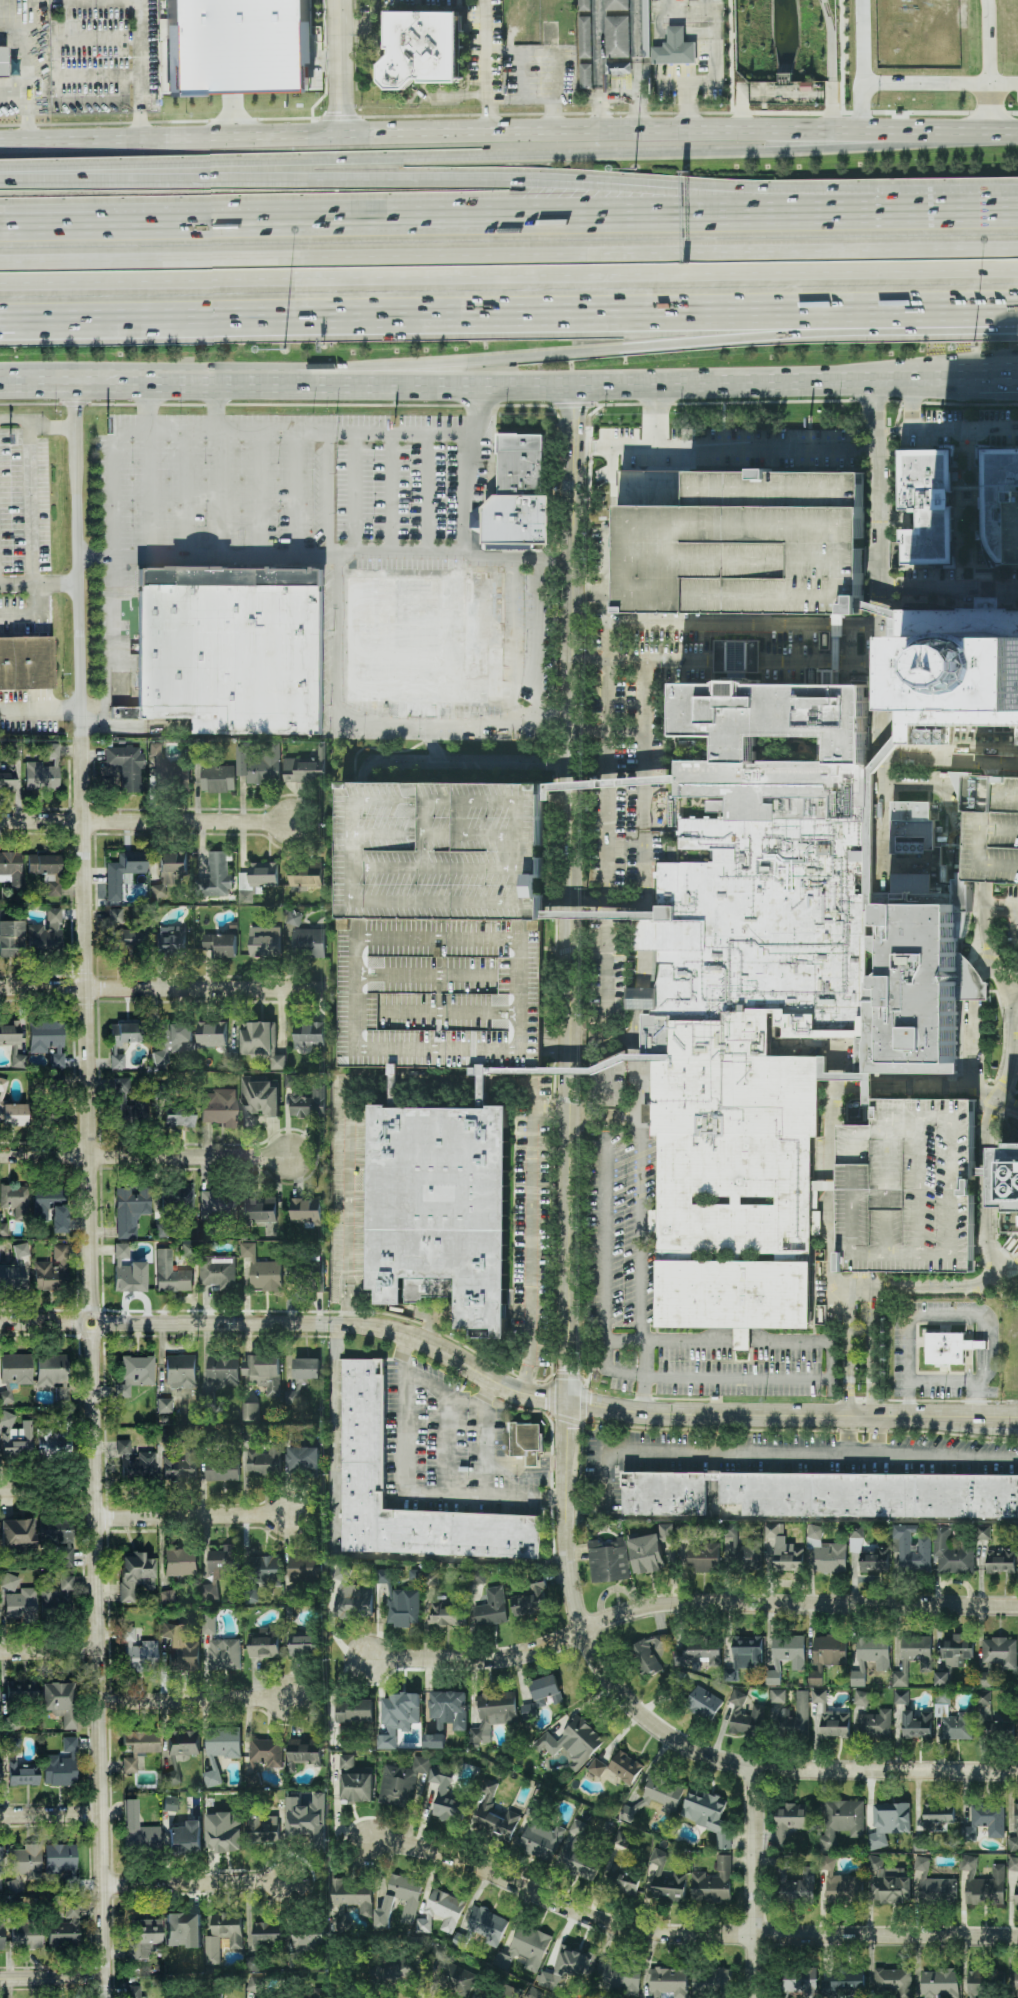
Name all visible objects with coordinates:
road: (366, 24)
building: (617, 37)
road: (95, 39)
road: (986, 42)
building: (584, 45)
road: (862, 46)
building: (419, 48)
building: (674, 48)
building: (270, 50)
building: (3, 60)
road: (731, 60)
road: (838, 60)
road: (485, 65)
road: (341, 67)
road: (138, 68)
road: (29, 70)
road: (95, 77)
road: (551, 79)
road: (698, 83)
road: (907, 83)
road: (1002, 83)
building: (806, 88)
road: (238, 90)
road: (15, 100)
road: (987, 105)
road: (251, 113)
road: (552, 120)
road: (508, 130)
road: (494, 158)
road: (120, 178)
road: (611, 183)
road: (999, 209)
road: (547, 215)
road: (57, 216)
road: (57, 221)
road: (509, 255)
road: (509, 276)
road: (508, 314)
road: (618, 347)
road: (109, 379)
road: (999, 383)
road: (396, 384)
road: (776, 385)
road: (873, 400)
road: (766, 401)
road: (896, 401)
road: (912, 401)
road: (969, 404)
road: (912, 405)
road: (899, 413)
road: (39, 422)
road: (961, 427)
road: (894, 429)
road: (890, 430)
road: (295, 433)
road: (967, 434)
road: (642, 446)
road: (776, 447)
road: (868, 448)
road: (149, 466)
road: (470, 469)
road: (891, 470)
road: (614, 489)
road: (115, 491)
road: (186, 491)
road: (222, 492)
road: (262, 492)
road: (298, 493)
road: (326, 493)
road: (355, 493)
road: (393, 493)
road: (429, 493)
building: (521, 496)
building: (999, 498)
building: (928, 508)
road: (967, 509)
road: (891, 519)
road: (897, 519)
building: (1014, 527)
parking garage: (1014, 527)
road: (38, 539)
building: (747, 548)
parking garage: (747, 548)
road: (326, 551)
road: (891, 553)
road: (872, 564)
road: (993, 565)
road: (924, 568)
road: (962, 568)
road: (985, 575)
road: (39, 579)
road: (891, 587)
road: (989, 590)
road: (948, 592)
road: (590, 593)
road: (954, 605)
road: (721, 625)
building: (840, 625)
road: (839, 626)
road: (862, 627)
road: (880, 629)
building: (424, 641)
road: (114, 643)
building: (231, 649)
road: (683, 661)
road: (862, 661)
road: (739, 662)
road: (798, 662)
road: (839, 662)
building: (24, 664)
building: (956, 670)
road: (40, 710)
road: (425, 726)
building: (1015, 736)
building: (930, 737)
road: (649, 742)
building: (155, 749)
road: (949, 761)
building: (260, 764)
building: (122, 768)
road: (986, 768)
building: (166, 769)
building: (304, 769)
building: (43, 771)
road: (1009, 772)
road: (608, 775)
building: (7, 779)
building: (218, 779)
road: (146, 821)
road: (984, 827)
building: (994, 828)
parking garage: (994, 828)
building: (443, 846)
parking garage: (443, 846)
building: (11, 868)
building: (46, 870)
building: (123, 871)
building: (169, 871)
building: (306, 875)
building: (216, 877)
building: (257, 880)
road: (648, 889)
road: (570, 893)
road: (998, 906)
road: (1016, 907)
building: (293, 918)
road: (1016, 918)
road: (647, 930)
building: (121, 931)
building: (45, 934)
building: (10, 935)
road: (979, 939)
building: (171, 941)
building: (207, 942)
building: (265, 942)
building: (309, 943)
building: (226, 946)
road: (984, 956)
road: (991, 957)
road: (1006, 971)
building: (917, 977)
building: (972, 980)
road: (972, 983)
road: (163, 988)
road: (1010, 988)
building: (442, 990)
parking garage: (442, 990)
building: (754, 992)
road: (1015, 1013)
road: (636, 1028)
flagpole: (1002, 1028)
building: (9, 1032)
building: (309, 1034)
building: (212, 1035)
flagpole: (1002, 1035)
building: (177, 1036)
building: (47, 1039)
road: (1005, 1039)
building: (122, 1040)
building: (261, 1043)
flagpole: (1002, 1043)
road: (973, 1056)
building: (160, 1057)
building: (231, 1059)
road: (1005, 1077)
road: (1014, 1084)
building: (3, 1085)
road: (1005, 1085)
road: (347, 1087)
road: (906, 1088)
road: (983, 1090)
building: (305, 1098)
building: (143, 1099)
building: (258, 1101)
road: (1012, 1103)
road: (1007, 1105)
road: (979, 1106)
building: (219, 1107)
road: (980, 1110)
road: (993, 1112)
building: (14, 1114)
road: (835, 1114)
road: (605, 1119)
building: (178, 1120)
road: (983, 1121)
road: (1008, 1127)
park: (1008, 1132)
fountain: (1010, 1135)
road: (1004, 1137)
road: (1011, 1138)
road: (144, 1155)
building: (1010, 1178)
road: (995, 1182)
building: (911, 1186)
parking garage: (911, 1186)
road: (92, 1188)
building: (177, 1198)
building: (15, 1199)
building: (51, 1207)
building: (239, 1207)
building: (443, 1208)
building: (130, 1209)
building: (306, 1211)
building: (1009, 1220)
building: (655, 1221)
building: (3, 1229)
road: (642, 1234)
road: (1009, 1243)
building: (189, 1247)
building: (21, 1249)
road: (531, 1250)
road: (606, 1255)
road: (992, 1255)
road: (981, 1264)
building: (52, 1270)
building: (127, 1270)
building: (262, 1271)
building: (218, 1272)
building: (170, 1273)
building: (10, 1278)
road: (882, 1289)
road: (1006, 1290)
road: (47, 1321)
road: (338, 1325)
road: (968, 1327)
road: (981, 1327)
road: (991, 1333)
road: (742, 1339)
road: (904, 1342)
road: (917, 1348)
building: (949, 1348)
road: (891, 1356)
road: (645, 1359)
road: (909, 1362)
road: (980, 1365)
building: (307, 1368)
road: (969, 1369)
building: (223, 1370)
building: (180, 1371)
road: (333, 1371)
road: (609, 1371)
building: (14, 1372)
building: (134, 1372)
road: (849, 1373)
road: (872, 1373)
building: (53, 1374)
road: (780, 1378)
building: (292, 1398)
road: (909, 1399)
road: (975, 1399)
road: (849, 1400)
road: (860, 1400)
road: (872, 1400)
road: (891, 1400)
road: (908, 1400)
road: (940, 1400)
road: (975, 1401)
road: (1002, 1401)
building: (164, 1405)
building: (250, 1412)
road: (791, 1415)
building: (6, 1418)
road: (447, 1422)
building: (364, 1435)
road: (483, 1436)
building: (16, 1439)
building: (527, 1442)
road: (720, 1454)
road: (947, 1457)
building: (265, 1460)
building: (304, 1460)
building: (135, 1463)
building: (181, 1465)
building: (222, 1470)
road: (49, 1490)
road: (406, 1492)
building: (819, 1495)
road: (606, 1501)
road: (193, 1515)
building: (983, 1532)
building: (16, 1534)
building: (58, 1537)
building: (856, 1541)
building: (911, 1549)
building: (650, 1550)
building: (741, 1550)
building: (782, 1552)
building: (826, 1553)
building: (952, 1553)
building: (703, 1557)
building: (180, 1561)
building: (608, 1561)
building: (875, 1561)
building: (1001, 1562)
building: (223, 1568)
building: (305, 1569)
building: (266, 1570)
building: (134, 1573)
building: (383, 1576)
building: (431, 1578)
building: (8, 1580)
building: (65, 1582)
building: (166, 1596)
building: (353, 1597)
building: (54, 1599)
building: (530, 1601)
road: (687, 1602)
building: (20, 1605)
building: (403, 1608)
building: (492, 1608)
building: (445, 1615)
building: (208, 1624)
road: (582, 1631)
building: (264, 1643)
building: (303, 1646)
building: (748, 1647)
building: (180, 1649)
road: (50, 1650)
building: (957, 1650)
building: (137, 1651)
building: (699, 1651)
building: (648, 1653)
building: (224, 1654)
building: (786, 1656)
building: (827, 1656)
building: (870, 1657)
building: (912, 1657)
building: (997, 1657)
building: (942, 1679)
building: (21, 1690)
building: (542, 1695)
building: (778, 1696)
building: (819, 1696)
building: (901, 1697)
building: (861, 1698)
road: (194, 1699)
building: (59, 1701)
building: (706, 1704)
building: (450, 1708)
building: (355, 1711)
building: (493, 1713)
building: (782, 1713)
building: (987, 1714)
building: (745, 1716)
building: (953, 1718)
building: (834, 1723)
building: (917, 1724)
building: (875, 1725)
building: (140, 1741)
building: (434, 1741)
building: (11, 1743)
building: (574, 1743)
building: (179, 1750)
building: (221, 1750)
building: (267, 1752)
building: (303, 1754)
building: (129, 1763)
building: (61, 1764)
building: (617, 1769)
road: (888, 1770)
building: (355, 1782)
building: (401, 1783)
building: (660, 1794)
building: (445, 1795)
building: (488, 1797)
building: (170, 1803)
road: (52, 1813)
building: (708, 1815)
building: (938, 1815)
building: (989, 1819)
building: (307, 1820)
building: (790, 1821)
building: (842, 1821)
building: (889, 1822)
building: (263, 1828)
building: (578, 1828)
building: (138, 1829)
building: (224, 1832)
building: (1014, 1832)
building: (186, 1838)
building: (623, 1840)
building: (542, 1841)
building: (60, 1857)
building: (0, 1865)
building: (23, 1865)
building: (581, 1865)
building: (796, 1880)
building: (666, 1881)
road: (197, 1882)
building: (620, 1882)
building: (890, 1882)
building: (713, 1883)
road: (758, 1883)
building: (837, 1883)
building: (984, 1884)
building: (1016, 1888)
building: (354, 1896)
building: (411, 1904)
building: (441, 1912)
building: (487, 1926)
building: (63, 1927)
building: (183, 1929)
building: (267, 1932)
building: (25, 1934)
road: (685, 1935)
building: (1, 1936)
building: (223, 1936)
building: (143, 1937)
building: (301, 1947)
building: (567, 1967)
building: (391, 1973)
road: (53, 1977)
building: (621, 1977)
building: (456, 1978)
building: (712, 1980)
building: (848, 1980)
building: (801, 1981)
building: (894, 1981)
building: (1016, 1982)
building: (938, 1983)
building: (978, 1983)
building: (132, 1991)
building: (483, 1994)

